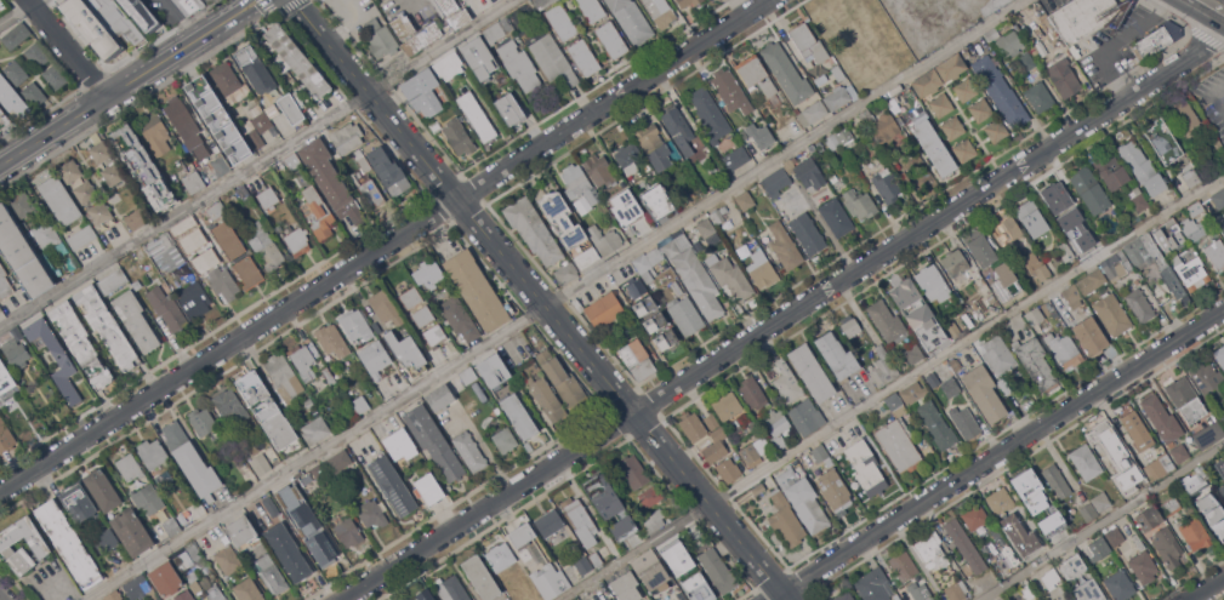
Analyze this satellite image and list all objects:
building: (209, 0)
building: (365, 0)
building: (462, 0)
building: (687, 2)
building: (542, 4)
building: (189, 5)
road: (926, 5)
road: (1214, 5)
building: (445, 6)
building: (591, 10)
road: (18, 11)
building: (660, 11)
building: (140, 15)
building: (1081, 17)
building: (459, 18)
building: (631, 19)
building: (119, 21)
building: (560, 21)
building: (402, 24)
building: (92, 28)
building: (1048, 28)
building: (497, 29)
building: (529, 34)
building: (991, 34)
building: (16, 35)
building: (422, 38)
building: (381, 39)
building: (611, 40)
building: (808, 41)
building: (1154, 41)
building: (1008, 42)
road: (1106, 45)
road: (67, 47)
building: (36, 55)
building: (479, 56)
building: (583, 57)
building: (553, 59)
building: (395, 61)
building: (1026, 61)
building: (297, 62)
building: (519, 64)
building: (953, 64)
building: (448, 65)
building: (255, 69)
building: (16, 72)
building: (786, 73)
building: (838, 73)
building: (755, 74)
building: (55, 76)
building: (1063, 76)
building: (506, 79)
road: (126, 82)
building: (229, 82)
building: (927, 82)
building: (966, 90)
building: (422, 91)
building: (730, 91)
building: (1000, 91)
road: (1213, 92)
building: (34, 93)
building: (1041, 93)
building: (12, 97)
building: (837, 97)
building: (941, 104)
building: (291, 108)
building: (508, 109)
building: (980, 109)
building: (813, 113)
building: (710, 114)
building: (477, 116)
building: (217, 118)
building: (260, 118)
building: (1185, 118)
building: (864, 119)
building: (4, 120)
building: (886, 126)
building: (187, 127)
building: (679, 127)
building: (952, 127)
building: (996, 130)
building: (155, 132)
building: (252, 132)
building: (459, 136)
building: (846, 136)
building: (347, 137)
building: (753, 137)
building: (832, 141)
building: (930, 141)
building: (1163, 141)
building: (1213, 141)
building: (656, 145)
building: (820, 145)
building: (813, 148)
building: (964, 150)
building: (101, 152)
building: (627, 158)
building: (736, 158)
building: (292, 160)
building: (364, 162)
road: (254, 164)
building: (220, 165)
building: (895, 165)
building: (1142, 166)
building: (142, 167)
building: (599, 170)
building: (1111, 170)
building: (70, 171)
building: (389, 171)
building: (805, 172)
building: (113, 173)
building: (833, 177)
building: (1190, 177)
building: (904, 178)
building: (330, 179)
building: (193, 182)
building: (776, 182)
building: (888, 185)
building: (579, 188)
building: (627, 188)
building: (1089, 189)
building: (85, 192)
building: (244, 193)
building: (371, 193)
building: (268, 198)
building: (1218, 198)
building: (1138, 199)
building: (59, 200)
building: (745, 200)
building: (656, 201)
building: (1059, 202)
building: (21, 204)
building: (860, 204)
building: (1196, 208)
building: (216, 210)
building: (99, 212)
building: (317, 212)
building: (719, 212)
building: (138, 217)
building: (836, 217)
building: (1030, 217)
building: (627, 219)
building: (25, 224)
building: (1222, 224)
building: (183, 225)
building: (533, 229)
building: (568, 229)
building: (707, 229)
building: (1007, 229)
building: (1192, 229)
building: (808, 233)
building: (45, 234)
building: (1168, 234)
building: (81, 236)
building: (294, 238)
building: (227, 239)
building: (605, 239)
building: (193, 240)
building: (263, 245)
road: (381, 245)
building: (785, 245)
building: (1075, 246)
building: (61, 248)
building: (983, 250)
building: (1065, 251)
building: (0, 252)
building: (166, 252)
building: (1216, 253)
building: (23, 255)
building: (1148, 255)
building: (205, 261)
building: (648, 262)
building: (955, 262)
building: (1037, 265)
building: (1117, 265)
building: (762, 269)
building: (246, 272)
building: (428, 273)
building: (565, 273)
building: (1192, 273)
building: (694, 275)
building: (731, 278)
building: (979, 280)
building: (113, 281)
building: (1004, 281)
building: (1091, 281)
building: (4, 282)
building: (223, 282)
building: (933, 282)
building: (137, 284)
building: (676, 287)
building: (637, 288)
building: (478, 290)
building: (1179, 291)
building: (1072, 296)
building: (411, 297)
building: (990, 297)
building: (194, 299)
road: (541, 299)
road: (556, 301)
building: (911, 302)
building: (1139, 304)
building: (644, 305)
building: (167, 308)
building: (980, 308)
building: (386, 309)
building: (602, 309)
building: (1112, 314)
building: (422, 315)
building: (685, 315)
building: (1035, 315)
building: (459, 318)
building: (136, 320)
road: (782, 320)
building: (887, 320)
building: (967, 320)
building: (655, 321)
building: (355, 324)
building: (107, 326)
building: (852, 326)
building: (953, 328)
building: (434, 335)
building: (1091, 335)
building: (665, 338)
building: (332, 339)
building: (929, 342)
building: (80, 343)
building: (15, 348)
building: (1064, 349)
building: (406, 352)
building: (915, 354)
building: (837, 355)
building: (1219, 355)
building: (375, 358)
building: (55, 359)
building: (304, 359)
building: (637, 359)
building: (998, 360)
building: (1035, 361)
building: (955, 364)
building: (883, 367)
building: (1, 368)
building: (493, 371)
building: (812, 372)
building: (329, 375)
building: (467, 375)
building: (284, 378)
building: (562, 378)
building: (933, 378)
building: (1207, 378)
building: (787, 382)
road: (890, 387)
building: (951, 387)
building: (314, 389)
building: (913, 392)
building: (752, 393)
building: (984, 393)
building: (439, 398)
building: (546, 398)
building: (1185, 399)
building: (309, 404)
building: (360, 404)
building: (230, 405)
building: (896, 405)
building: (727, 406)
building: (78, 412)
building: (269, 413)
building: (519, 416)
building: (807, 417)
building: (1161, 417)
building: (201, 421)
building: (486, 421)
building: (711, 421)
building: (966, 422)
building: (938, 424)
building: (693, 425)
building: (776, 428)
building: (315, 430)
building: (1138, 430)
building: (1208, 434)
building: (5, 438)
building: (505, 440)
building: (434, 441)
building: (400, 444)
building: (899, 444)
building: (716, 445)
road: (484, 448)
building: (928, 450)
building: (469, 451)
building: (755, 451)
building: (152, 452)
building: (1179, 452)
building: (820, 453)
road: (998, 456)
building: (190, 461)
building: (337, 462)
building: (1086, 462)
road: (1059, 463)
building: (260, 464)
building: (1219, 465)
building: (130, 467)
building: (866, 467)
building: (1158, 467)
building: (728, 470)
building: (634, 472)
building: (319, 473)
building: (1125, 475)
building: (1195, 480)
building: (159, 481)
building: (1055, 481)
building: (393, 485)
building: (428, 488)
building: (758, 488)
building: (102, 490)
building: (1222, 490)
building: (294, 491)
building: (835, 491)
building: (603, 496)
building: (650, 496)
building: (147, 498)
building: (803, 499)
building: (78, 501)
building: (1038, 501)
building: (1101, 502)
building: (272, 507)
building: (1171, 507)
building: (1068, 512)
building: (1088, 512)
building: (1190, 512)
building: (371, 513)
building: (1212, 513)
building: (582, 518)
building: (974, 518)
building: (1148, 518)
building: (786, 519)
building: (653, 521)
building: (1012, 521)
building: (550, 522)
road: (1101, 522)
building: (170, 524)
building: (622, 527)
building: (131, 530)
building: (241, 532)
building: (347, 532)
building: (522, 533)
building: (1195, 533)
building: (1115, 537)
building: (67, 539)
building: (104, 539)
building: (966, 545)
building: (40, 548)
building: (990, 548)
building: (1097, 548)
building: (1169, 549)
building: (288, 550)
building: (321, 550)
building: (932, 550)
building: (189, 556)
building: (500, 556)
building: (596, 556)
building: (676, 556)
building: (228, 559)
building: (583, 564)
building: (1002, 564)
building: (904, 565)
building: (1071, 565)
building: (1143, 566)
building: (718, 570)
building: (651, 572)
building: (272, 575)
building: (480, 577)
building: (166, 578)
building: (1051, 578)
building: (550, 581)
building: (935, 583)
building: (696, 584)
building: (875, 585)
building: (1120, 585)
building: (626, 587)
building: (140, 588)
building: (197, 589)
building: (451, 589)
road: (1208, 589)
building: (249, 590)
building: (957, 590)
building: (1089, 590)
building: (920, 592)
building: (1027, 592)
building: (215, 593)
building: (184, 595)
building: (425, 595)
road: (2, 596)
building: (114, 596)
building: (154, 596)
building: (843, 596)
building: (266, 599)
building: (608, 599)

